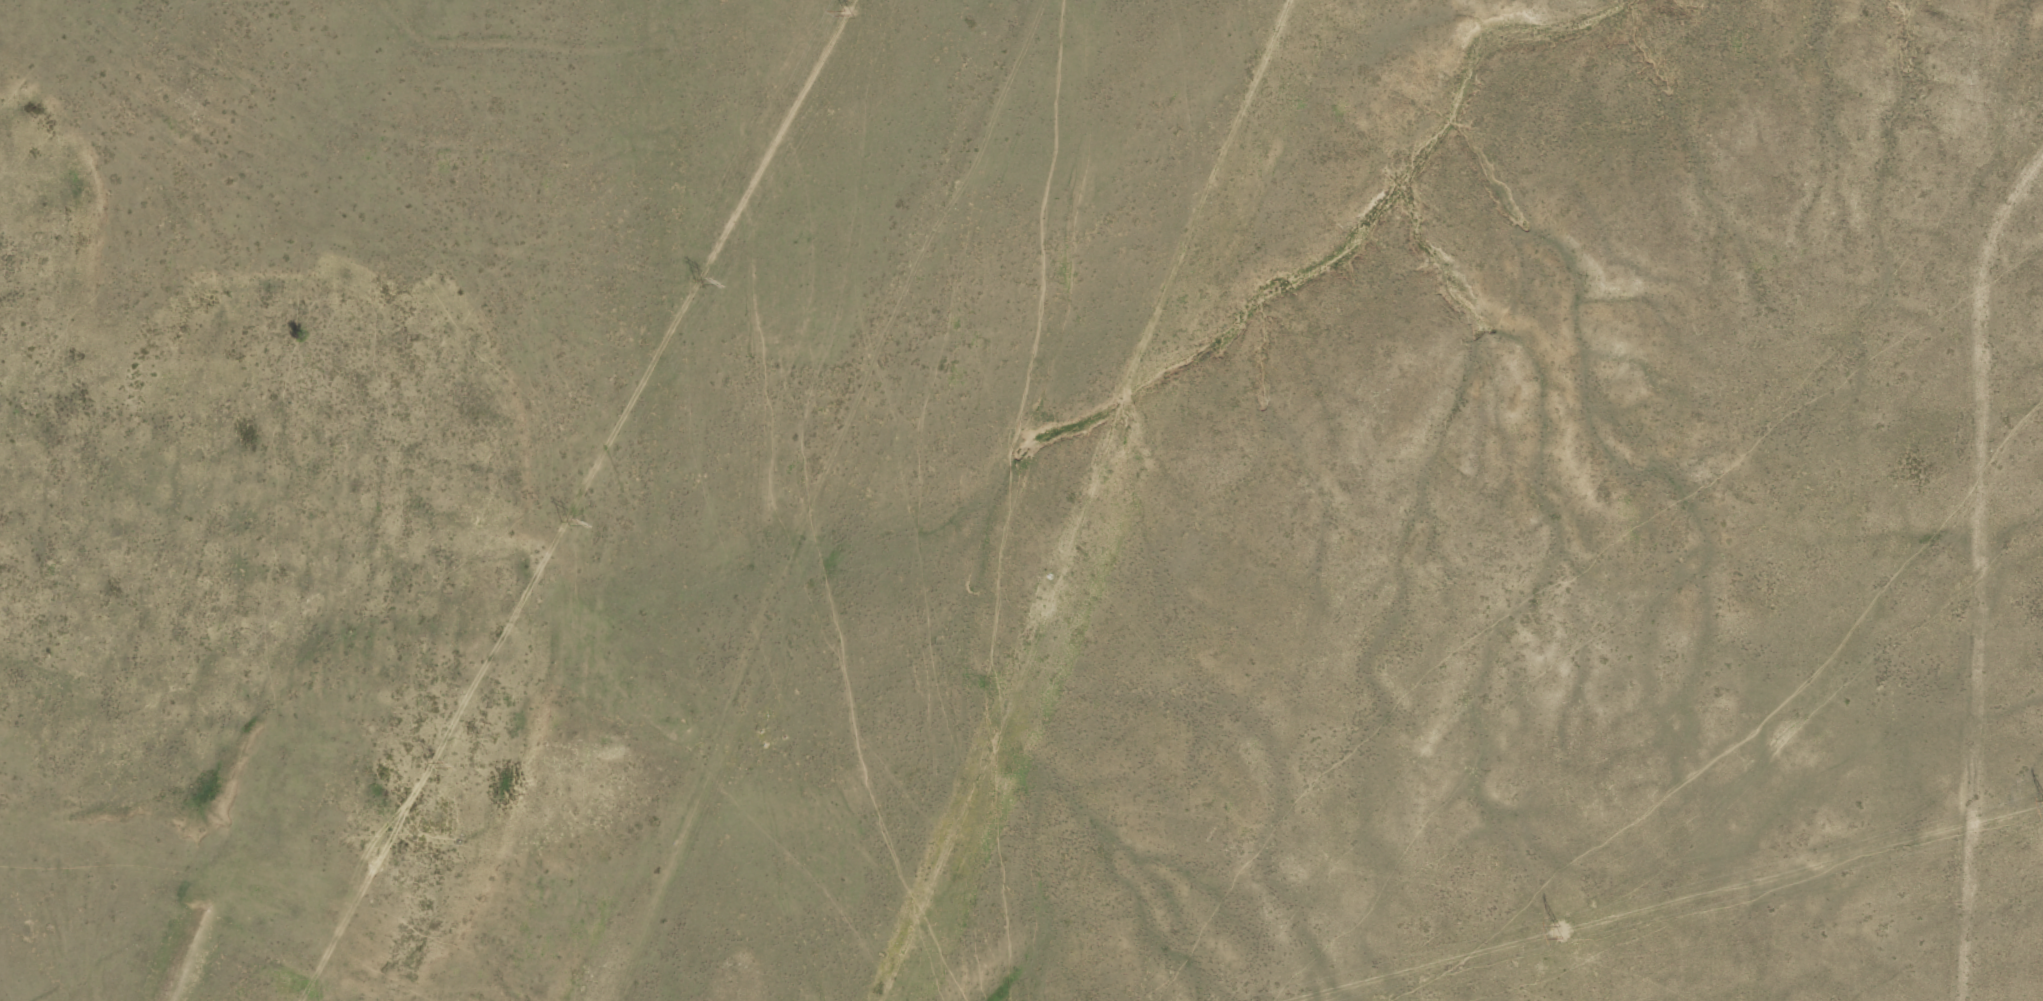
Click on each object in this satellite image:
power tower: (856, 14)
power tower: (698, 273)
power tower: (554, 524)
road: (486, 610)
power tower: (427, 767)
power tower: (1564, 931)

